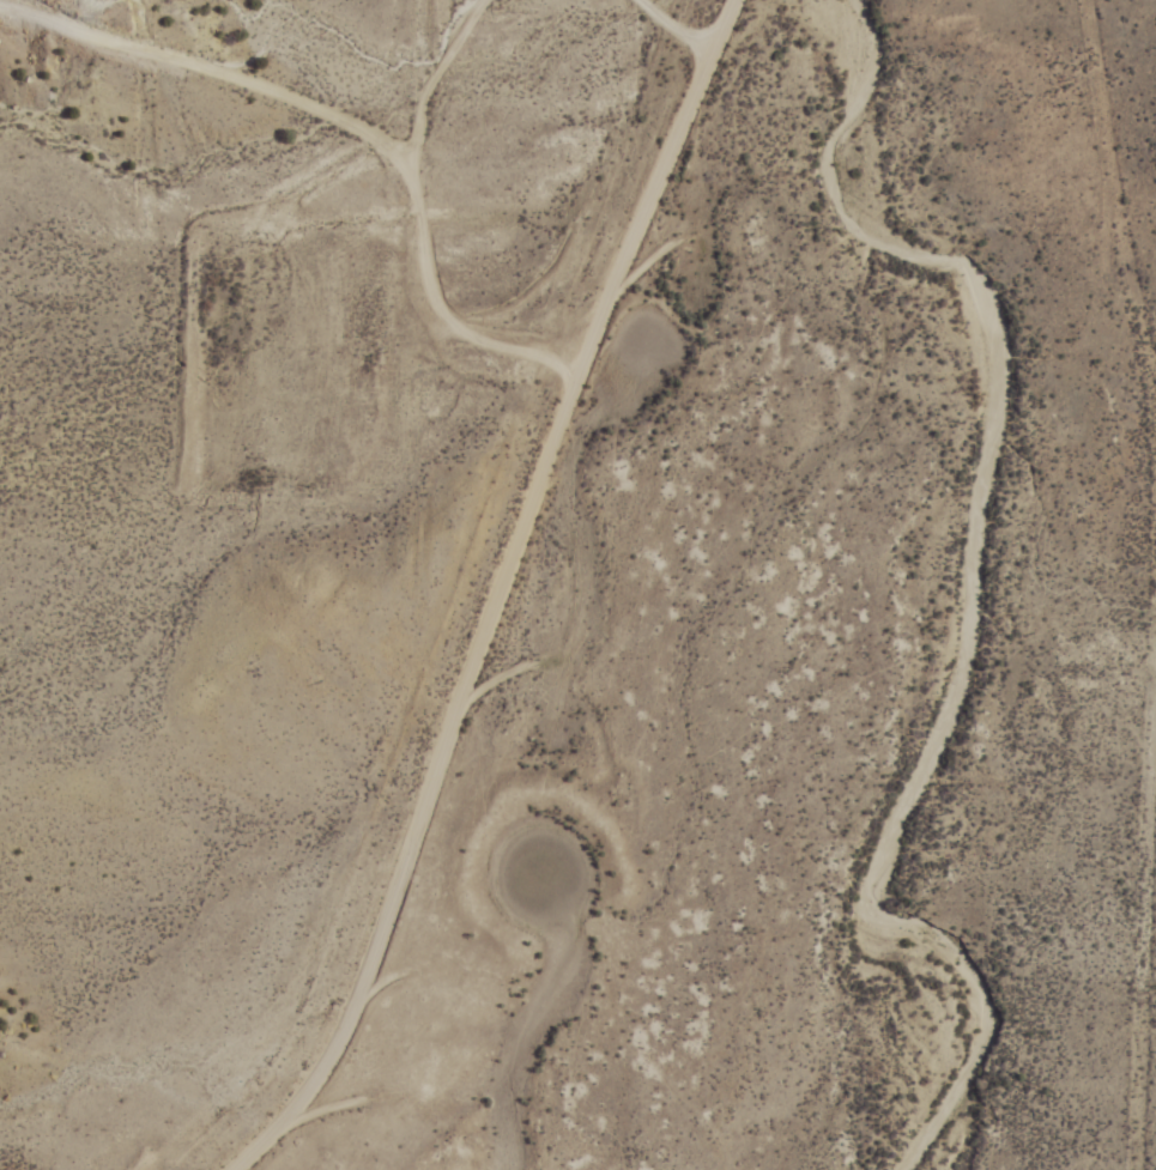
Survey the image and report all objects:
road: (206, 92)
road: (1112, 105)
road: (660, 177)
road: (412, 207)
road: (210, 320)
road: (555, 357)
river: (956, 578)
road: (1130, 650)
road: (438, 777)

